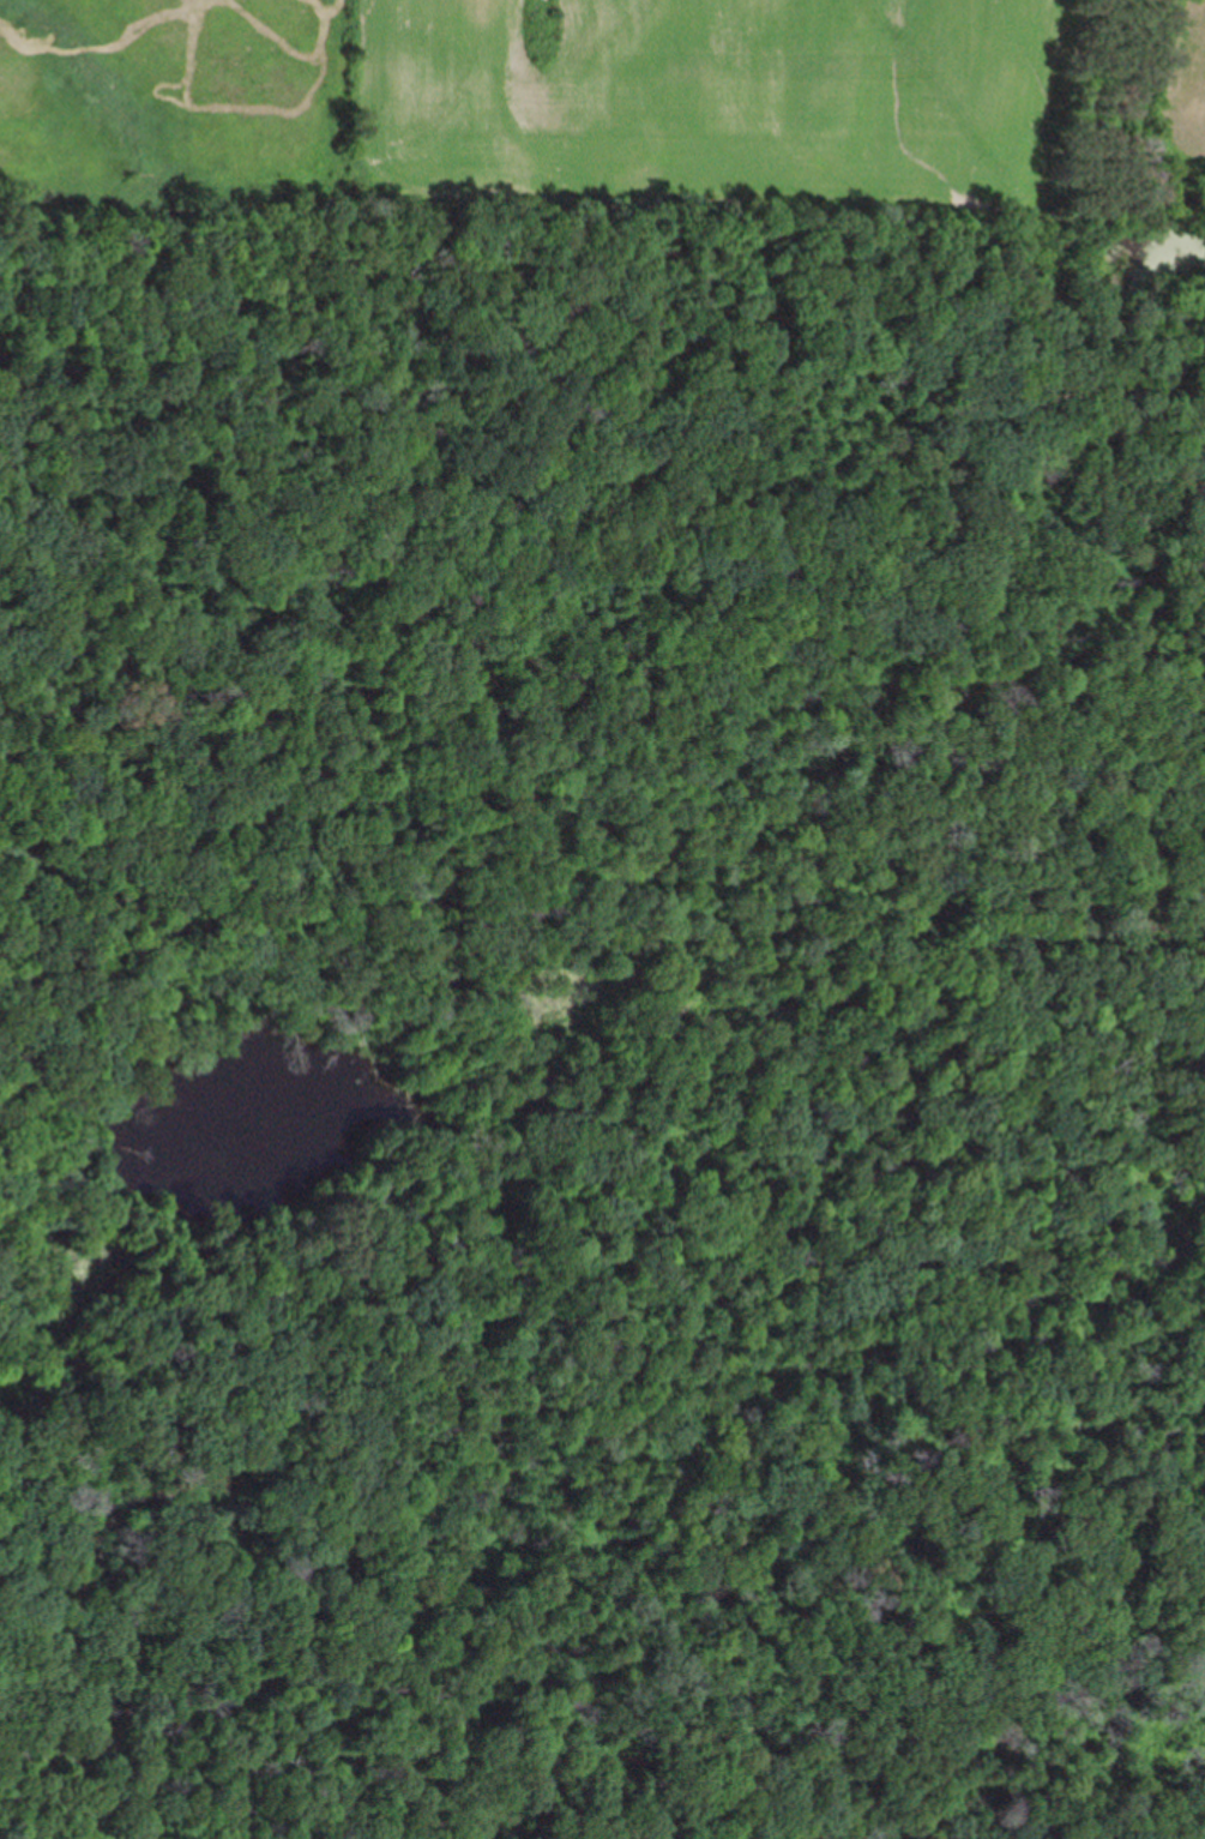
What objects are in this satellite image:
road: (423, 356)
park: (582, 1012)
road: (667, 1167)

